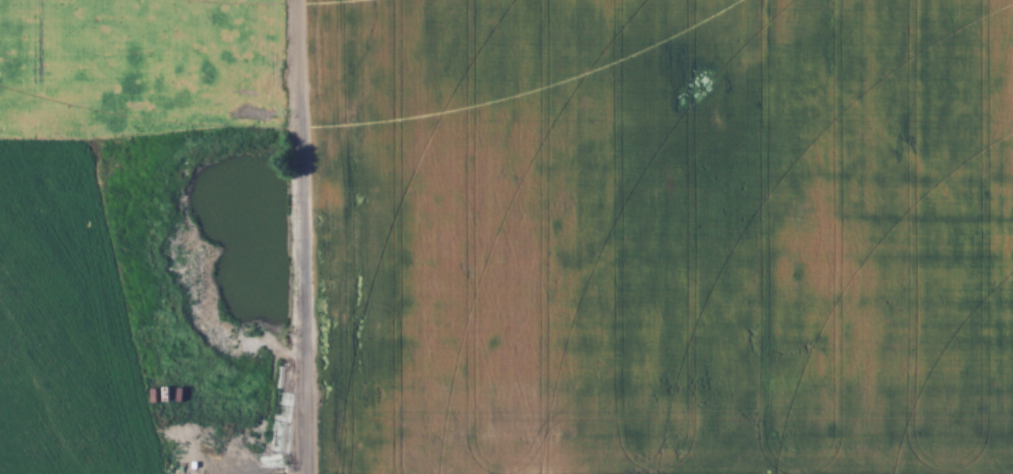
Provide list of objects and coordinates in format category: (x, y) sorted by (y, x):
building: (150, 337)
building: (285, 379)

